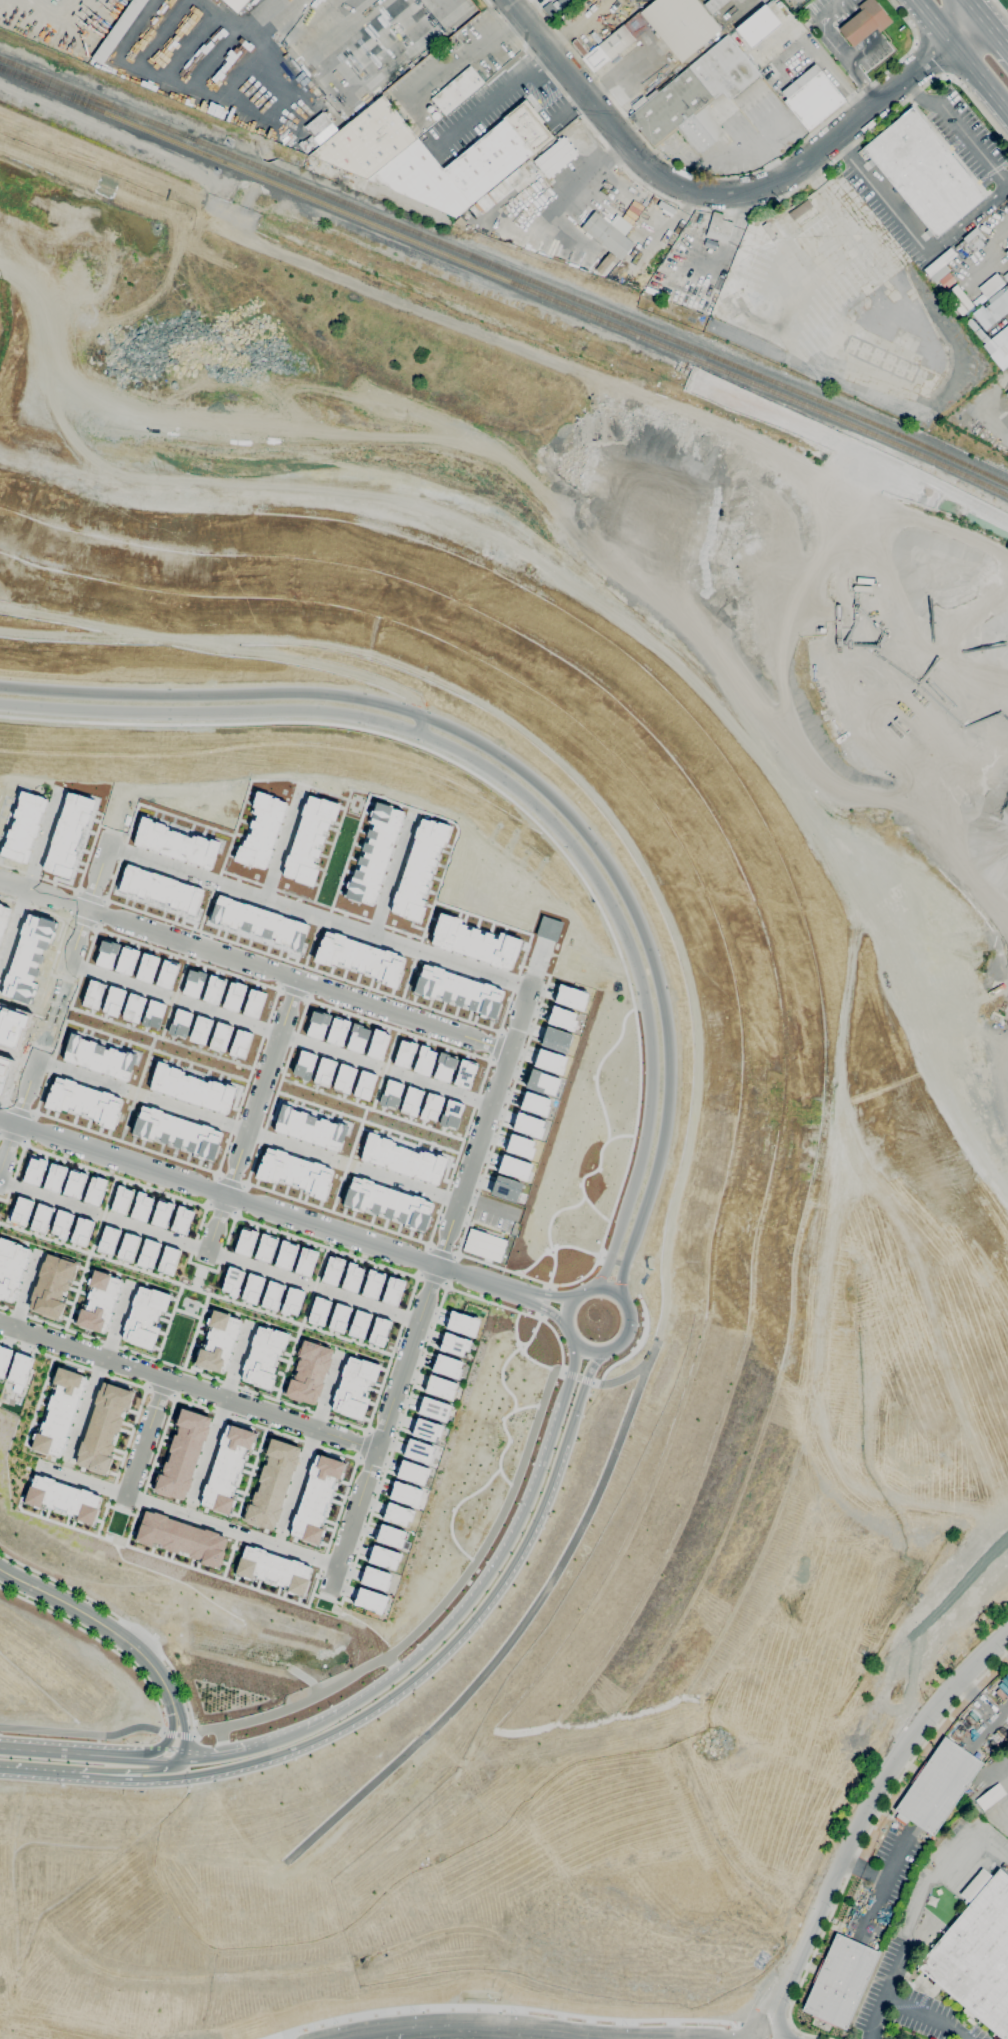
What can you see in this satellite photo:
road: (963, 1)
road: (964, 1)
building: (235, 4)
building: (714, 4)
building: (554, 7)
road: (1001, 8)
road: (53, 10)
road: (266, 15)
building: (865, 22)
building: (680, 24)
building: (758, 26)
road: (132, 28)
road: (986, 28)
road: (159, 32)
road: (246, 33)
road: (252, 33)
road: (189, 44)
building: (609, 48)
road: (461, 54)
road: (964, 54)
road: (930, 58)
road: (545, 60)
railway: (958, 62)
road: (242, 74)
road: (525, 79)
road: (169, 80)
building: (457, 90)
road: (919, 93)
railway: (86, 94)
building: (695, 95)
railway: (86, 97)
building: (812, 97)
building: (316, 130)
building: (367, 140)
road: (973, 141)
road: (844, 147)
building: (556, 157)
building: (465, 163)
building: (531, 166)
road: (590, 172)
building: (924, 172)
road: (732, 177)
building: (502, 189)
road: (732, 193)
road: (828, 200)
road: (739, 209)
building: (800, 209)
building: (475, 211)
railway: (347, 213)
building: (632, 214)
building: (460, 221)
building: (719, 228)
building: (768, 230)
building: (611, 232)
building: (974, 239)
railway: (435, 240)
road: (923, 245)
building: (1007, 252)
building: (939, 261)
building: (940, 273)
building: (1006, 276)
building: (990, 285)
building: (656, 287)
building: (959, 299)
building: (992, 310)
building: (977, 330)
building: (999, 348)
building: (1007, 394)
railway: (815, 399)
road: (992, 423)
railway: (851, 425)
railway: (970, 467)
road: (217, 648)
road: (178, 723)
road: (420, 724)
road: (572, 773)
road: (535, 783)
road: (307, 786)
road: (521, 793)
road: (123, 798)
road: (2, 802)
road: (136, 803)
road: (105, 805)
park: (118, 809)
road: (526, 815)
building: (23, 826)
road: (120, 831)
building: (260, 831)
building: (67, 834)
road: (42, 839)
building: (308, 839)
road: (230, 840)
building: (175, 843)
road: (281, 846)
park: (340, 847)
road: (89, 849)
road: (329, 850)
road: (349, 850)
building: (372, 853)
road: (99, 868)
building: (417, 868)
road: (391, 875)
road: (38, 876)
building: (159, 888)
road: (42, 894)
road: (90, 897)
road: (262, 897)
road: (71, 904)
road: (205, 905)
road: (33, 906)
road: (454, 908)
road: (338, 910)
road: (328, 913)
road: (100, 914)
building: (3, 915)
road: (82, 920)
building: (257, 921)
road: (12, 926)
building: (548, 928)
road: (203, 931)
road: (75, 940)
road: (311, 941)
building: (474, 941)
road: (57, 945)
building: (106, 953)
road: (538, 956)
building: (359, 957)
building: (26, 958)
building: (125, 960)
road: (473, 966)
building: (146, 967)
building: (166, 974)
road: (62, 978)
road: (116, 979)
road: (296, 979)
road: (45, 980)
building: (193, 982)
road: (259, 982)
building: (212, 989)
road: (58, 990)
road: (175, 990)
road: (292, 990)
road: (380, 991)
building: (458, 992)
building: (92, 994)
building: (233, 996)
building: (571, 997)
road: (47, 1000)
building: (112, 1000)
building: (253, 1003)
road: (62, 1005)
building: (133, 1007)
park: (51, 1011)
building: (152, 1013)
road: (91, 1014)
road: (449, 1014)
road: (356, 1015)
road: (229, 1017)
building: (561, 1017)
building: (179, 1023)
building: (317, 1024)
building: (11, 1026)
road: (62, 1028)
building: (199, 1030)
building: (337, 1031)
road: (44, 1033)
road: (161, 1033)
road: (27, 1035)
building: (219, 1036)
building: (356, 1037)
road: (153, 1038)
building: (556, 1039)
road: (33, 1042)
building: (239, 1043)
building: (377, 1044)
road: (495, 1046)
road: (48, 1047)
road: (201, 1050)
road: (326, 1050)
building: (403, 1053)
road: (17, 1054)
building: (97, 1057)
road: (387, 1060)
building: (423, 1060)
building: (548, 1061)
road: (196, 1063)
building: (303, 1064)
road: (249, 1067)
building: (444, 1067)
building: (323, 1071)
building: (3, 1072)
road: (15, 1072)
building: (464, 1074)
road: (77, 1075)
building: (343, 1078)
road: (293, 1082)
building: (542, 1082)
building: (363, 1084)
road: (137, 1086)
road: (26, 1087)
road: (440, 1088)
building: (192, 1089)
building: (390, 1093)
road: (506, 1099)
building: (410, 1100)
building: (83, 1102)
road: (2, 1103)
road: (373, 1103)
building: (534, 1103)
road: (313, 1104)
building: (430, 1107)
road: (18, 1108)
road: (2, 1110)
road: (363, 1113)
building: (450, 1114)
road: (200, 1115)
road: (483, 1117)
road: (634, 1118)
road: (250, 1119)
road: (413, 1122)
building: (526, 1123)
road: (14, 1124)
road: (29, 1128)
building: (308, 1128)
building: (178, 1132)
road: (619, 1135)
road: (120, 1136)
road: (409, 1136)
road: (607, 1136)
road: (460, 1138)
road: (11, 1141)
road: (125, 1143)
road: (290, 1145)
road: (7, 1147)
building: (520, 1147)
road: (457, 1150)
road: (348, 1158)
building: (402, 1158)
road: (253, 1159)
building: (513, 1167)
building: (33, 1170)
building: (292, 1171)
road: (104, 1173)
building: (54, 1177)
road: (232, 1178)
building: (74, 1183)
road: (410, 1185)
building: (505, 1188)
road: (210, 1189)
building: (94, 1190)
road: (232, 1197)
road: (48, 1198)
building: (121, 1199)
road: (240, 1199)
building: (387, 1202)
park: (1, 1203)
building: (140, 1206)
road: (331, 1207)
road: (594, 1208)
building: (20, 1210)
road: (219, 1211)
building: (496, 1211)
building: (160, 1213)
road: (336, 1213)
road: (101, 1216)
building: (40, 1218)
building: (181, 1220)
building: (61, 1224)
building: (80, 1231)
building: (489, 1233)
building: (107, 1239)
building: (244, 1241)
building: (484, 1245)
building: (127, 1246)
road: (575, 1247)
building: (265, 1248)
road: (326, 1248)
road: (82, 1252)
road: (439, 1252)
building: (147, 1254)
building: (284, 1254)
road: (551, 1254)
road: (422, 1259)
building: (167, 1260)
building: (305, 1261)
road: (614, 1261)
road: (533, 1262)
road: (200, 1265)
building: (11, 1267)
road: (261, 1269)
road: (449, 1269)
road: (551, 1269)
building: (332, 1270)
building: (351, 1277)
road: (432, 1277)
road: (479, 1279)
road: (531, 1279)
road: (172, 1281)
building: (231, 1281)
road: (195, 1284)
building: (372, 1284)
building: (52, 1285)
building: (252, 1289)
road: (608, 1290)
road: (23, 1291)
building: (392, 1291)
road: (549, 1294)
building: (271, 1295)
road: (73, 1298)
park: (190, 1300)
road: (543, 1301)
building: (98, 1302)
building: (291, 1302)
road: (543, 1309)
building: (318, 1311)
road: (521, 1312)
building: (144, 1316)
building: (338, 1318)
road: (116, 1321)
road: (294, 1322)
park: (538, 1322)
building: (358, 1323)
building: (462, 1324)
road: (514, 1329)
road: (644, 1330)
road: (194, 1331)
building: (378, 1331)
road: (327, 1333)
road: (531, 1334)
building: (218, 1342)
road: (521, 1343)
building: (454, 1344)
road: (650, 1354)
building: (264, 1357)
building: (4, 1359)
road: (534, 1361)
road: (236, 1362)
building: (446, 1366)
building: (19, 1369)
road: (182, 1369)
building: (308, 1372)
road: (577, 1376)
road: (619, 1378)
road: (187, 1386)
building: (355, 1387)
building: (440, 1387)
road: (143, 1389)
road: (326, 1392)
road: (378, 1392)
road: (38, 1400)
road: (85, 1406)
road: (527, 1406)
building: (433, 1409)
building: (58, 1412)
road: (506, 1414)
road: (383, 1424)
building: (103, 1429)
building: (425, 1429)
road: (379, 1434)
road: (146, 1437)
road: (362, 1444)
road: (208, 1448)
road: (331, 1449)
building: (418, 1450)
building: (181, 1454)
road: (387, 1459)
road: (370, 1461)
building: (226, 1468)
road: (251, 1472)
building: (411, 1472)
road: (298, 1478)
building: (271, 1483)
building: (405, 1494)
building: (62, 1498)
building: (316, 1499)
road: (453, 1509)
road: (127, 1512)
building: (397, 1514)
road: (188, 1515)
road: (50, 1520)
park: (115, 1524)
building: (390, 1536)
building: (181, 1538)
building: (383, 1557)
road: (181, 1564)
building: (273, 1569)
building: (374, 1578)
building: (369, 1600)
park: (323, 1605)
road: (436, 1608)
road: (91, 1617)
road: (120, 1619)
road: (98, 1642)
road: (507, 1643)
road: (391, 1665)
road: (394, 1674)
road: (304, 1677)
road: (408, 1684)
road: (79, 1732)
road: (175, 1735)
road: (217, 1737)
road: (227, 1746)
road: (16, 1748)
road: (129, 1753)
road: (20, 1766)
road: (149, 1770)
building: (938, 1786)
building: (991, 1796)
road: (862, 1824)
road: (865, 1840)
road: (924, 1884)
building: (977, 1953)
building: (841, 1981)
road: (499, 2005)
road: (925, 2016)
road: (876, 2018)
road: (779, 2019)
road: (763, 2023)
road: (522, 2031)
road: (385, 2035)
road: (554, 2037)

